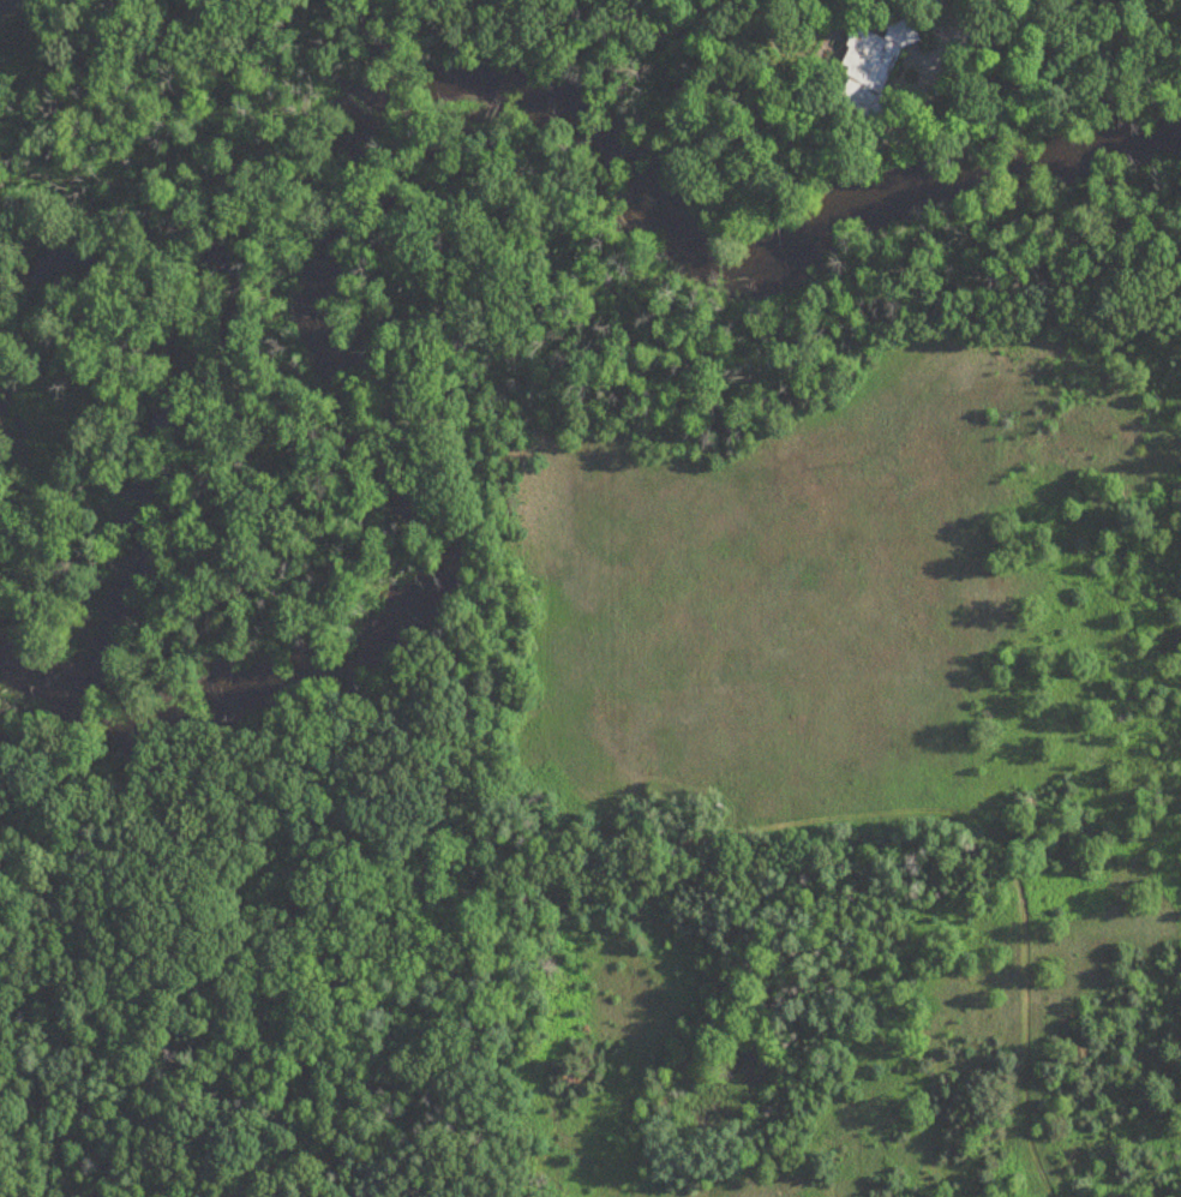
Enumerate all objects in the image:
road: (943, 32)
building: (870, 62)
river: (356, 139)

